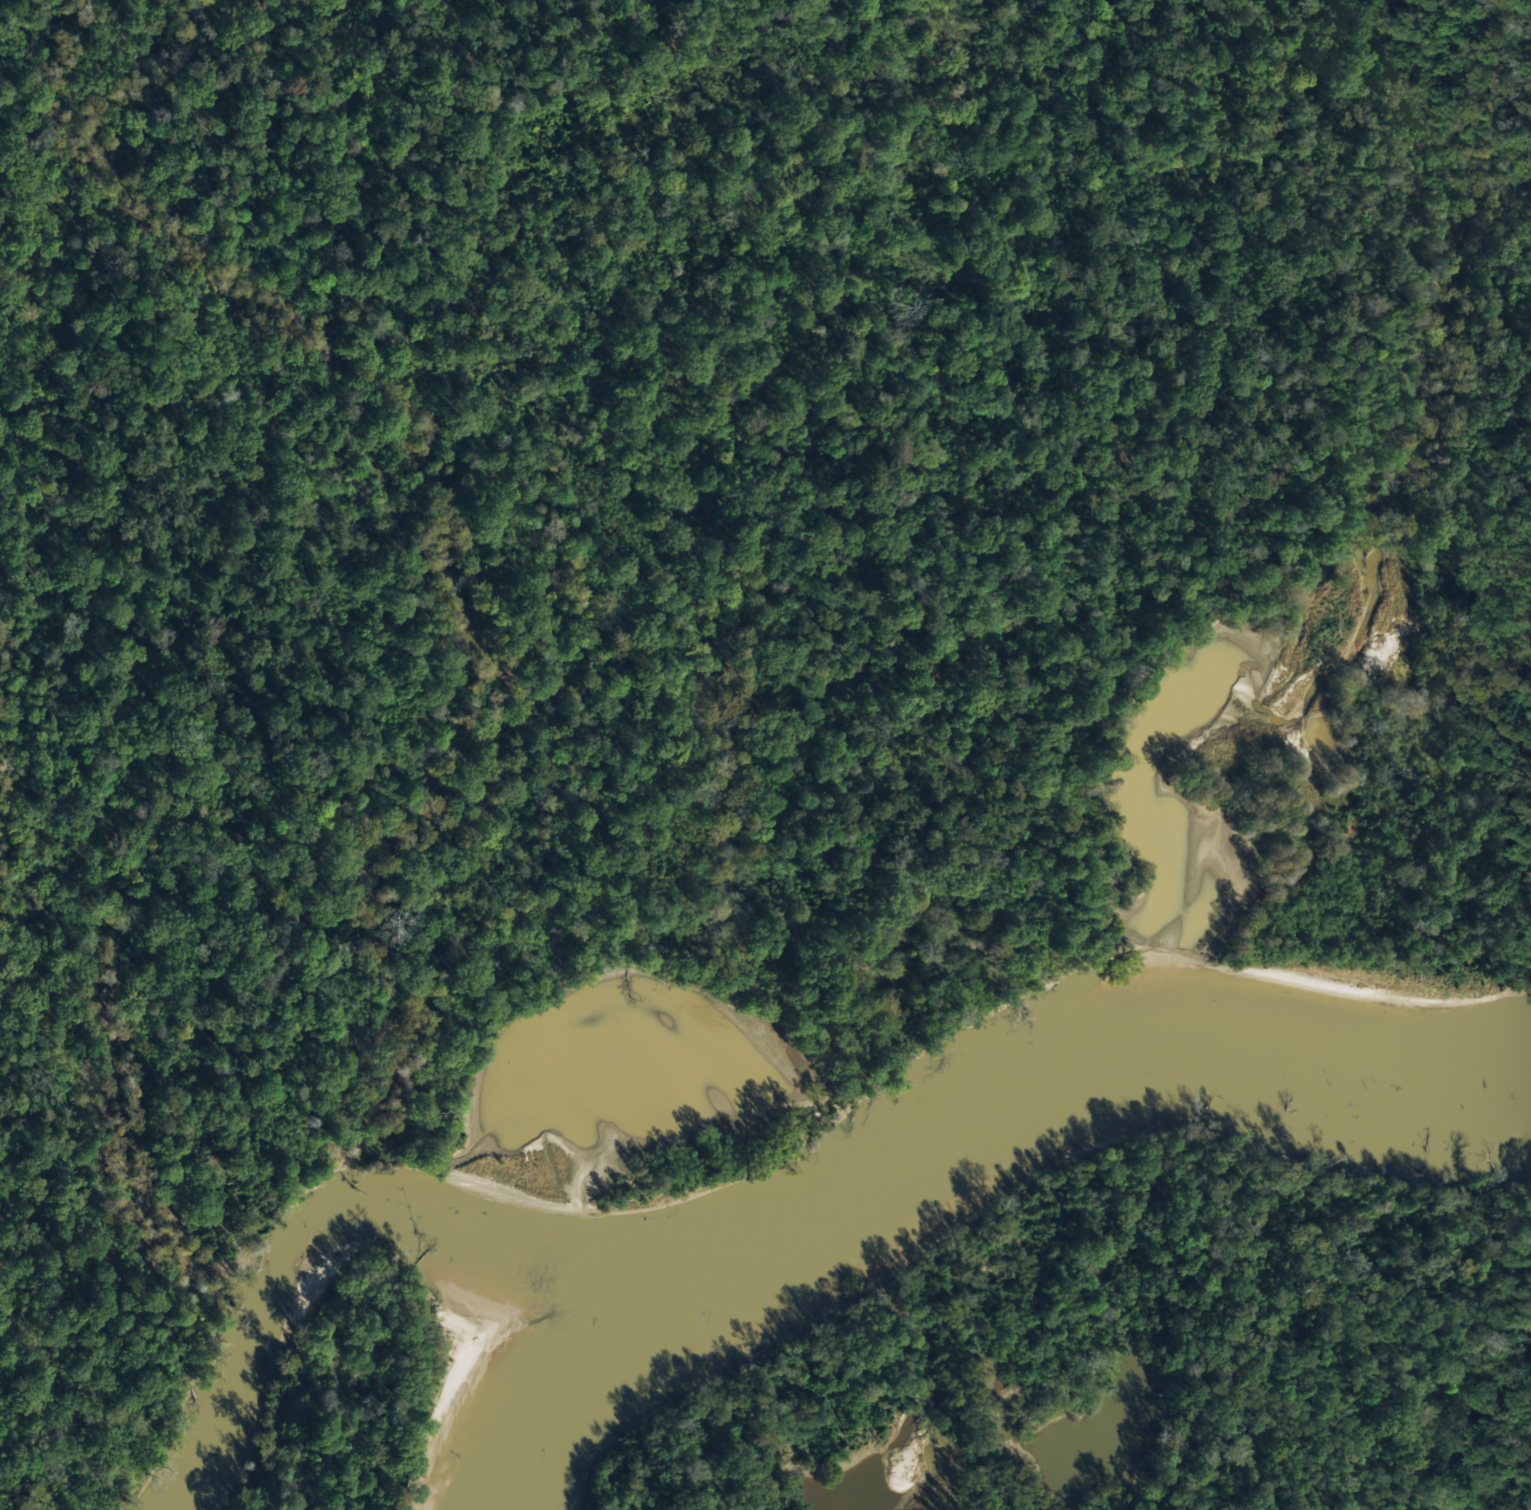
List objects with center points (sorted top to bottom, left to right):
river: (958, 1124)
river: (280, 1323)

